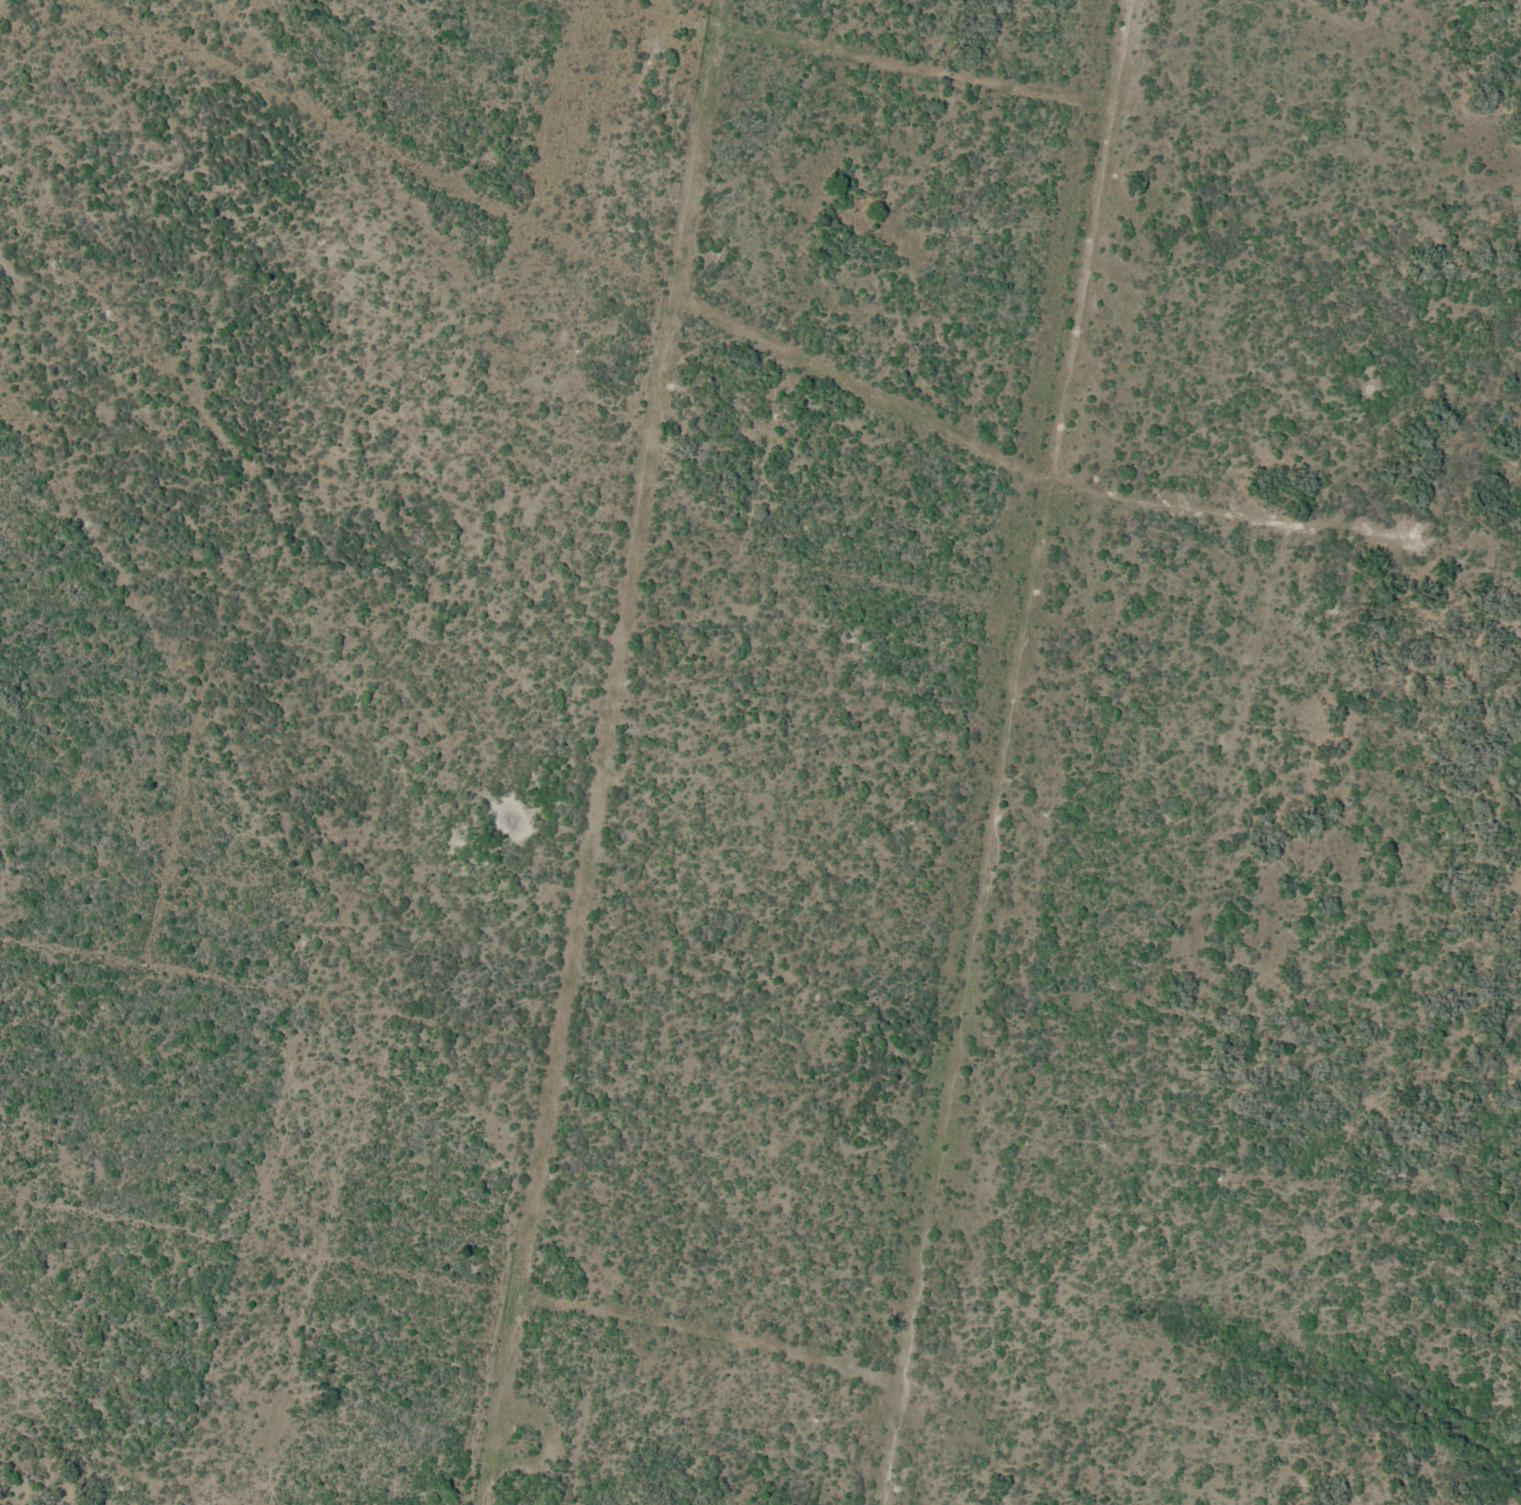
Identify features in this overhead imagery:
road: (15, 34)
road: (62, 1426)

